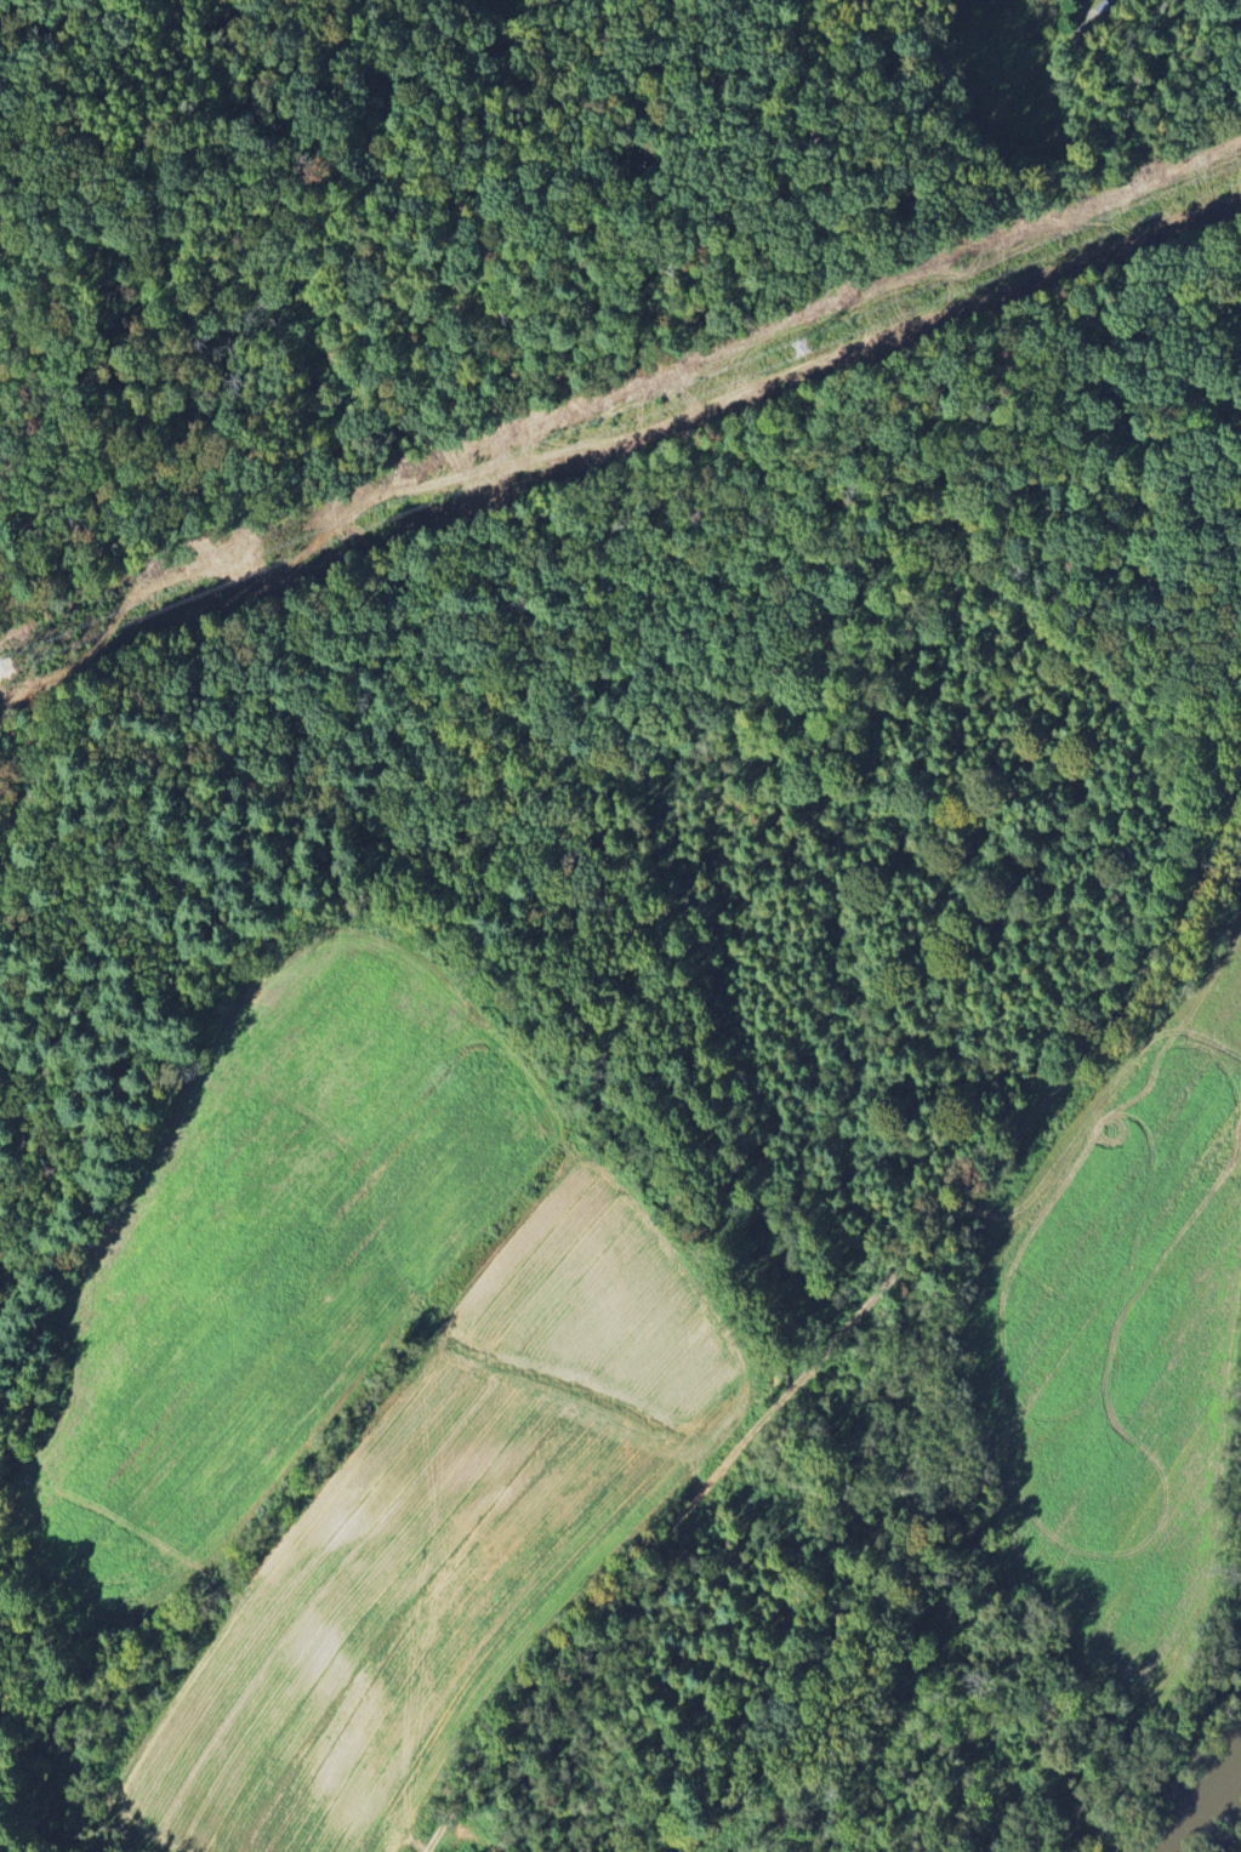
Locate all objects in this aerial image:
power tower: (5, 669)
river: (1195, 1803)

